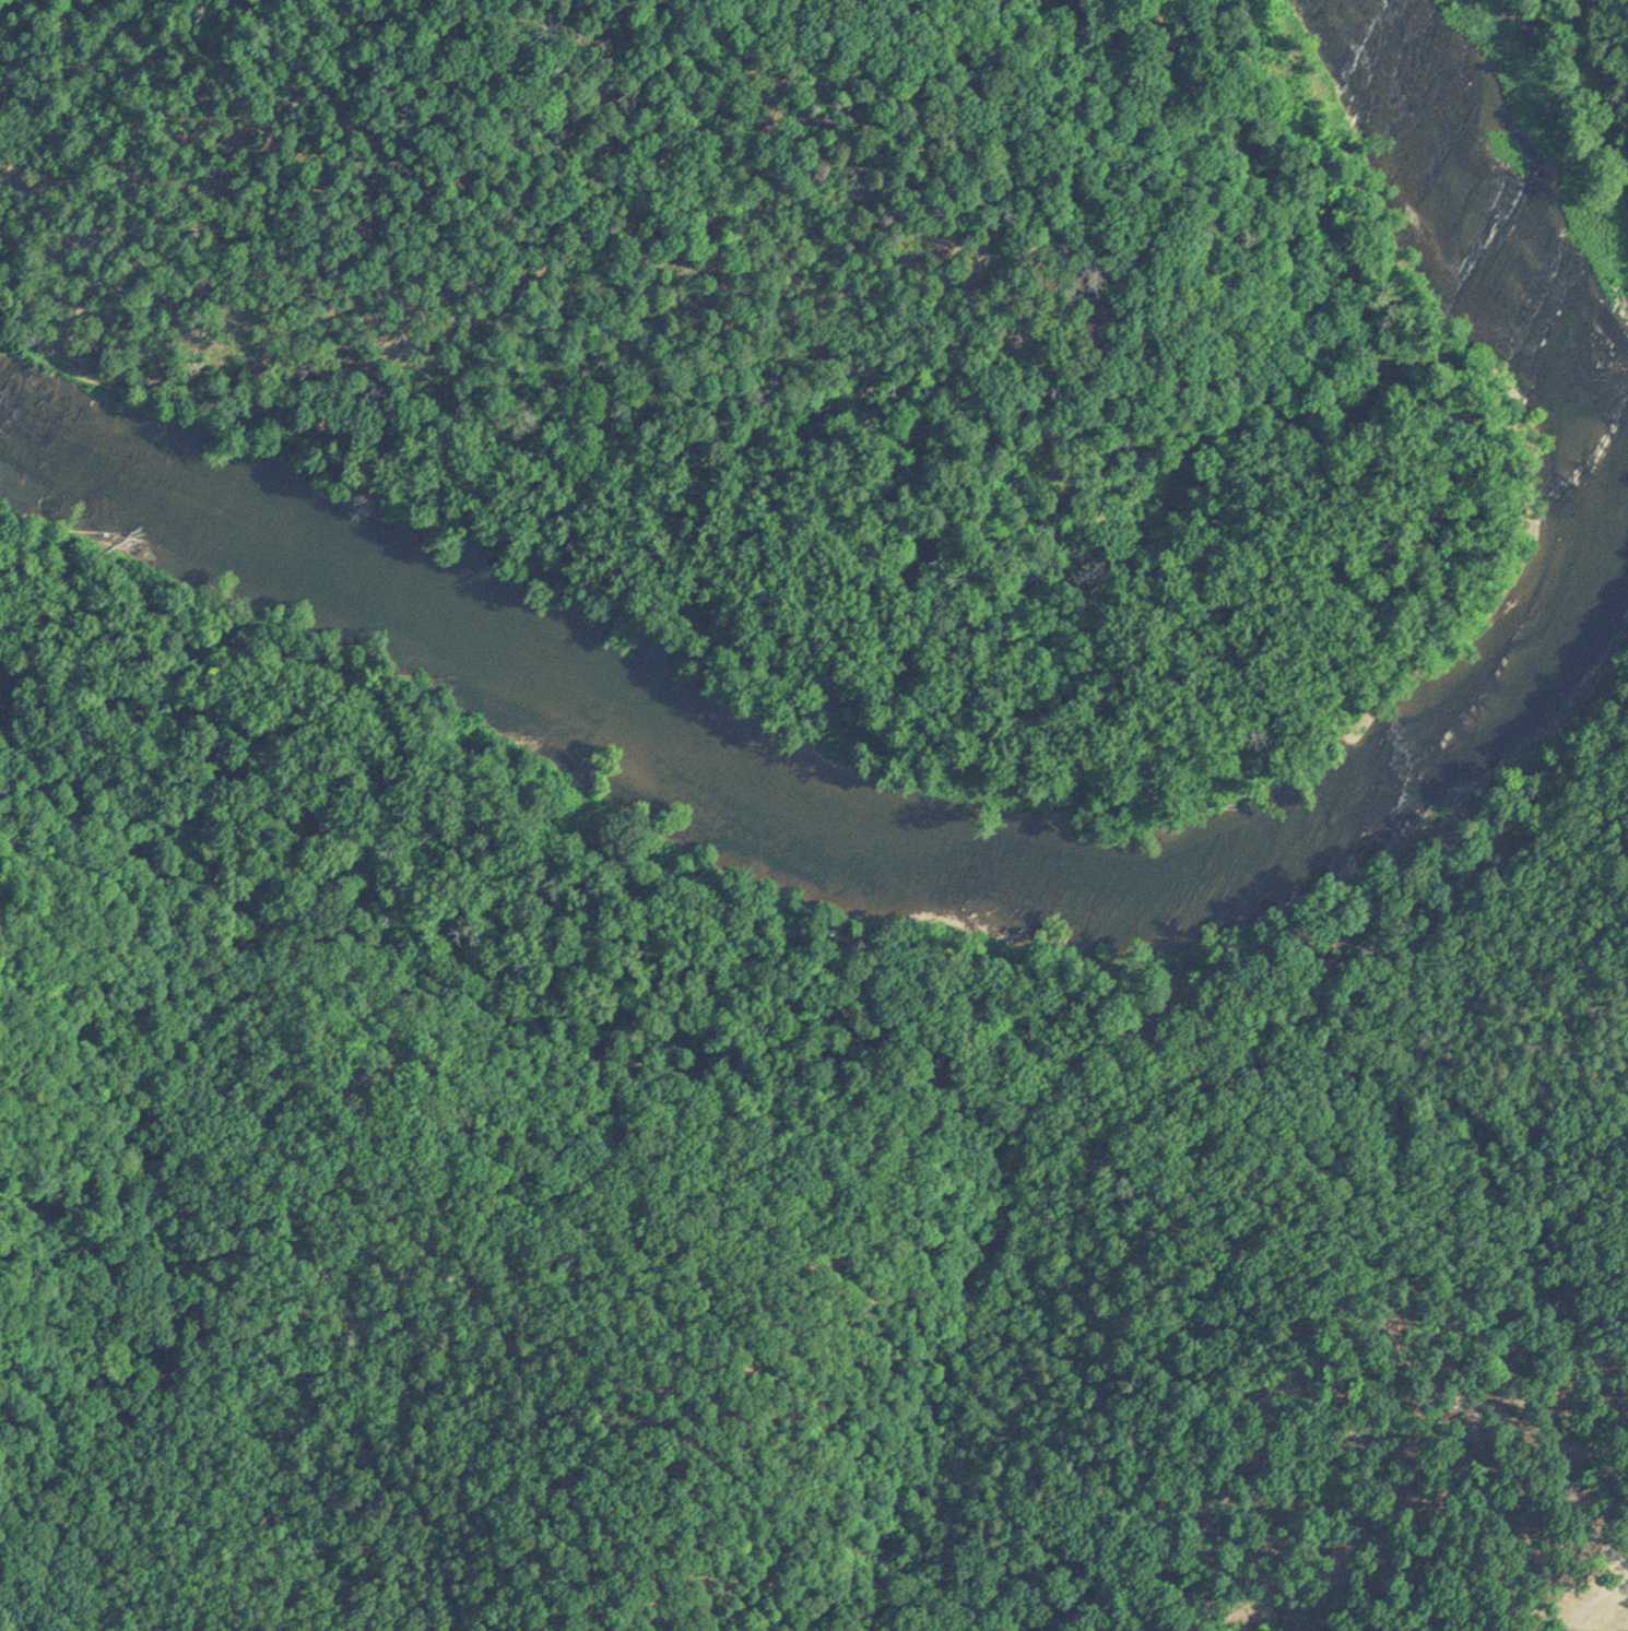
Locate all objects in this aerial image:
river: (1139, 876)

